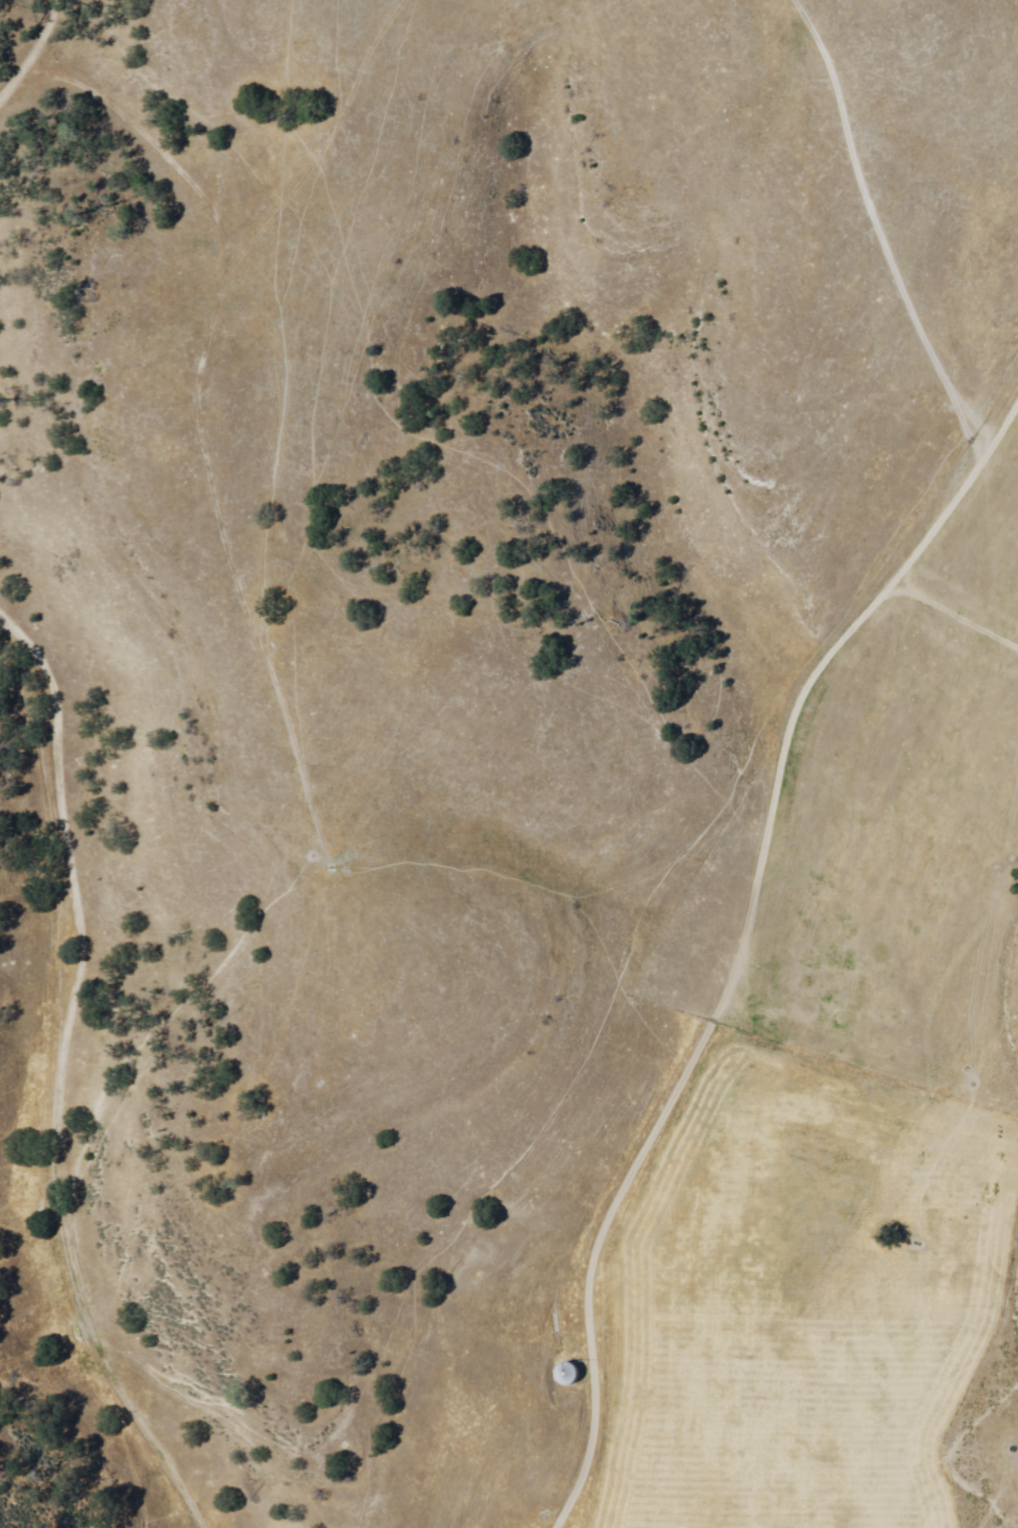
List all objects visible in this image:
road: (17, 28)
road: (921, 209)
road: (742, 939)
road: (33, 1013)
building: (566, 1374)

